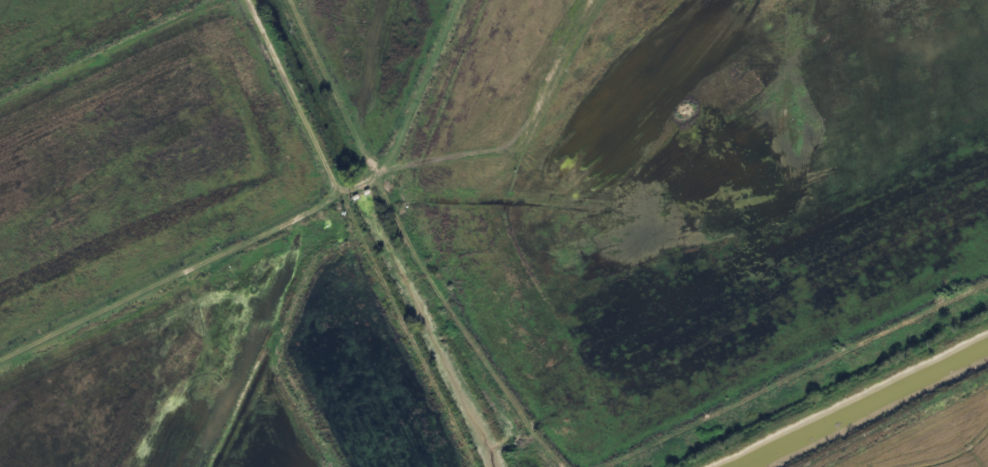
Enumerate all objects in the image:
road: (901, 424)

